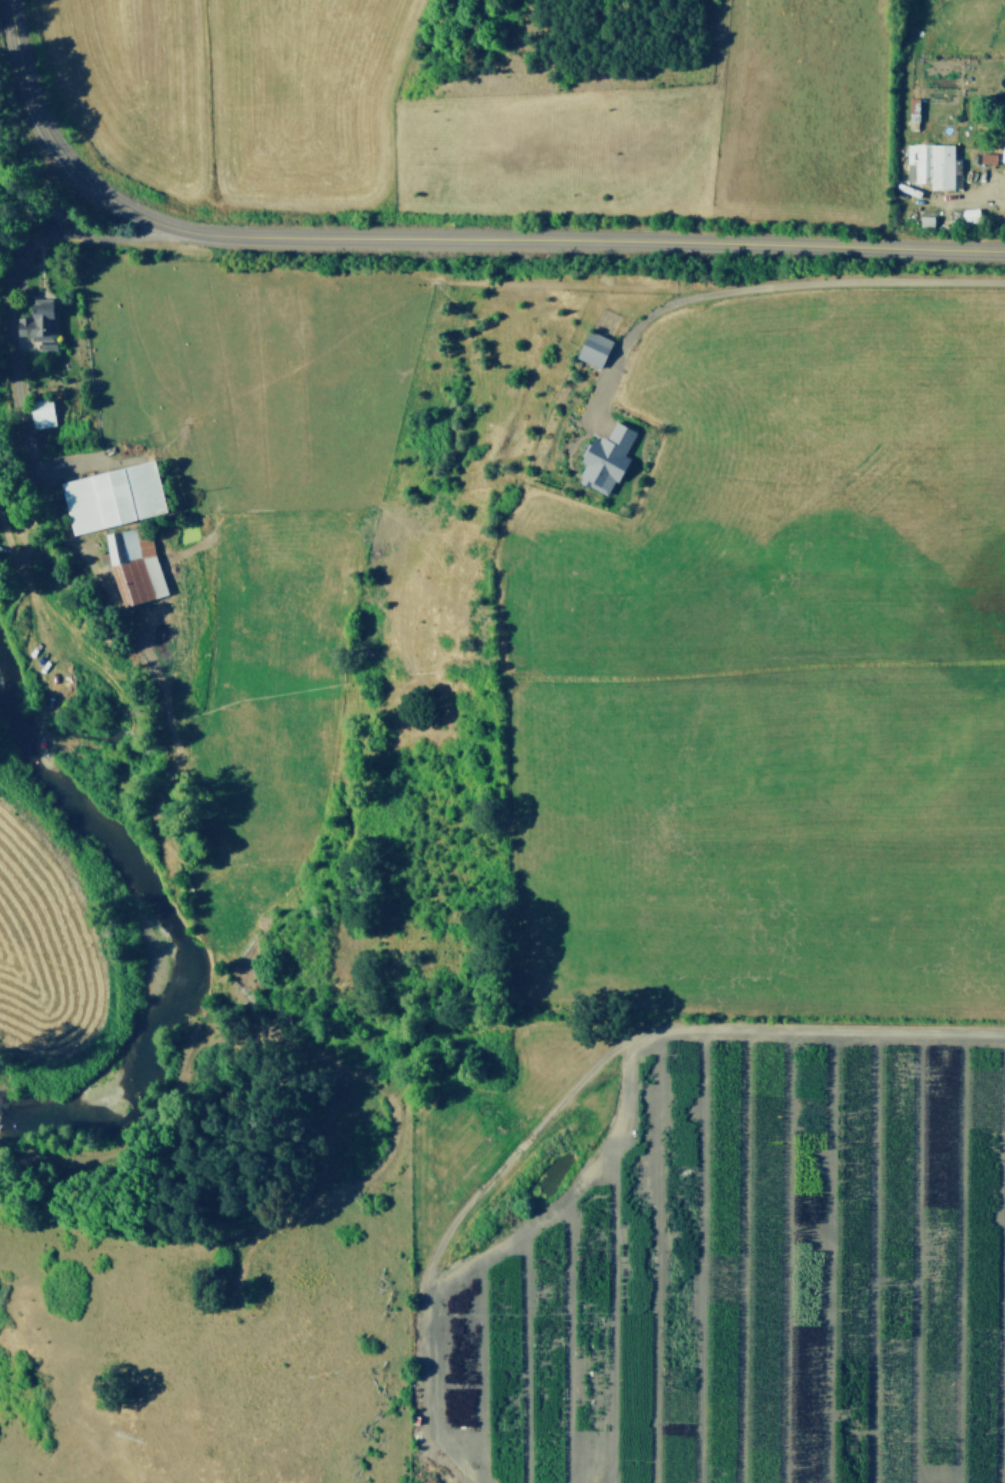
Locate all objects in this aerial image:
crop: (524, 102)
building: (1003, 138)
building: (987, 157)
building: (931, 164)
road: (976, 198)
building: (970, 215)
building: (925, 220)
road: (45, 229)
road: (438, 235)
road: (779, 286)
building: (33, 321)
building: (591, 348)
building: (39, 413)
building: (603, 458)
building: (109, 496)
building: (131, 565)
river: (145, 940)
crop: (27, 943)

